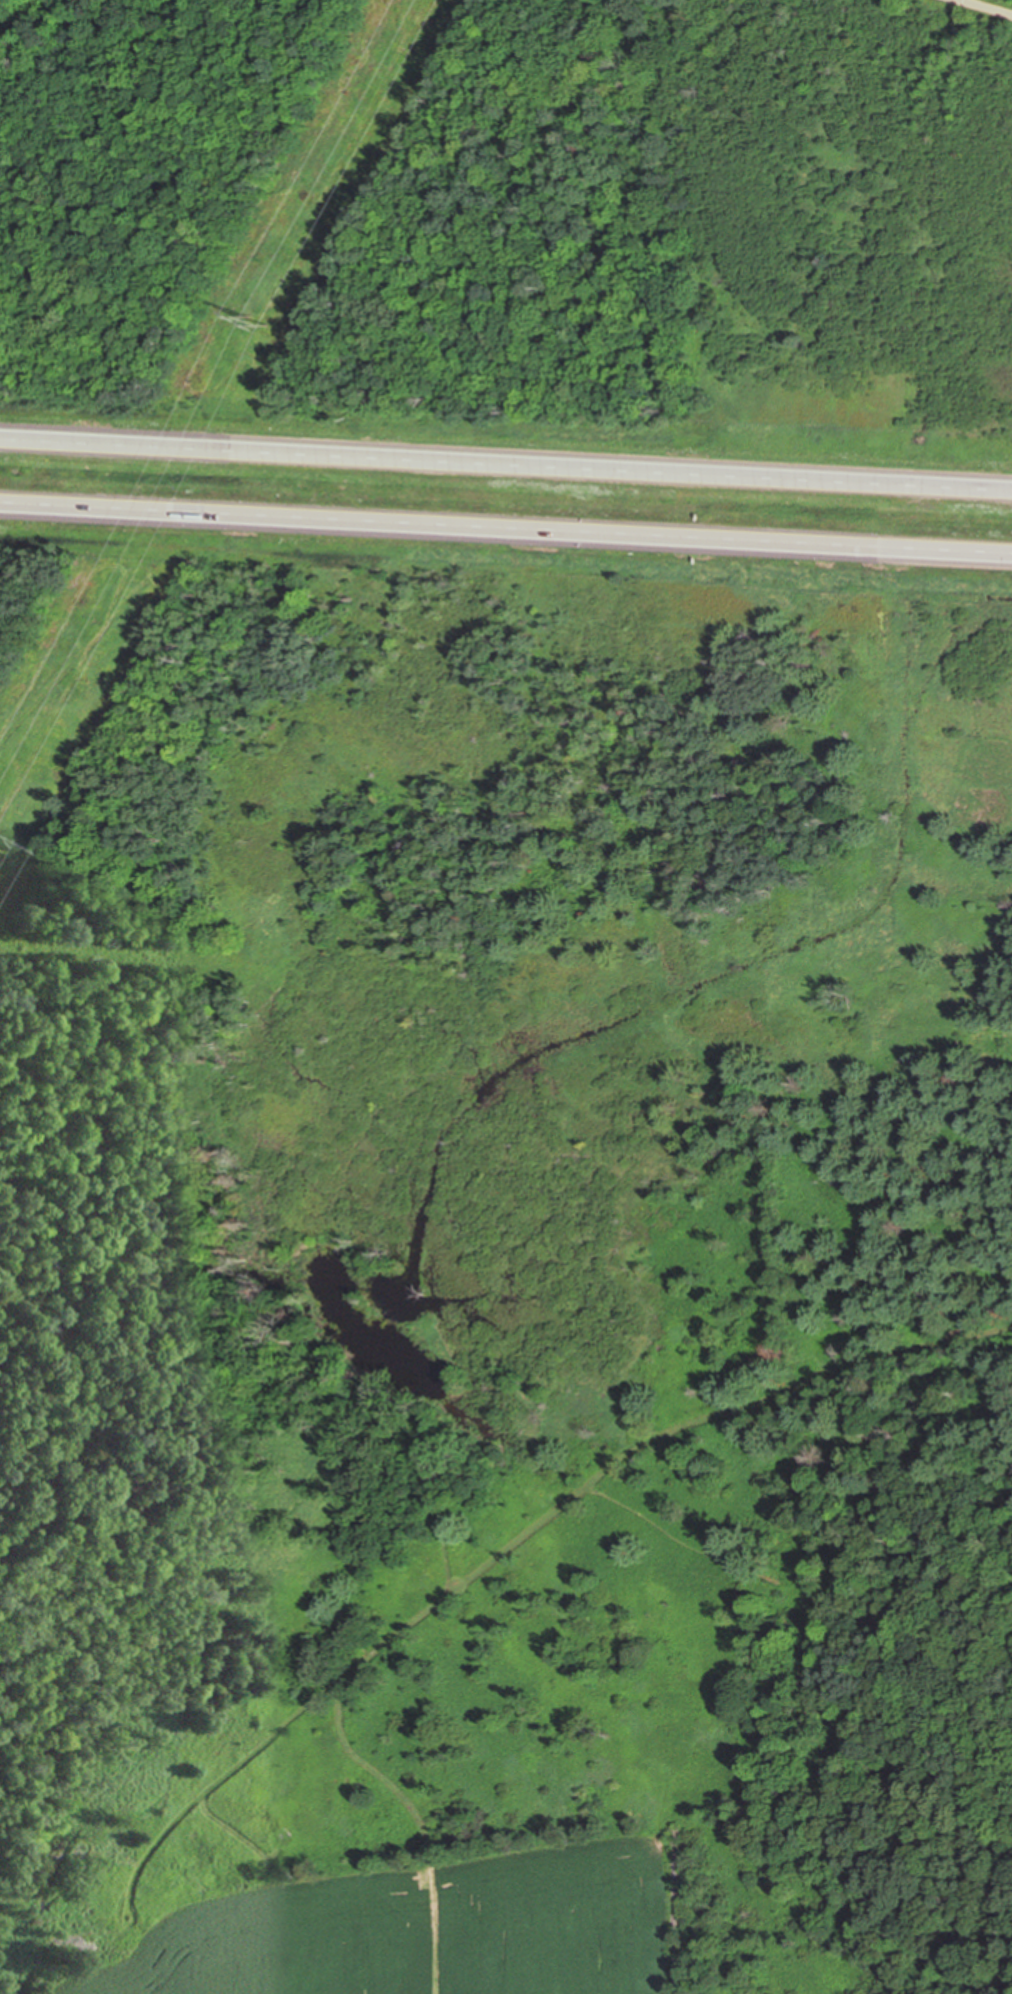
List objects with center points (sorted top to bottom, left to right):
road: (989, 6)
road: (506, 463)
road: (505, 528)
crop: (432, 1922)

